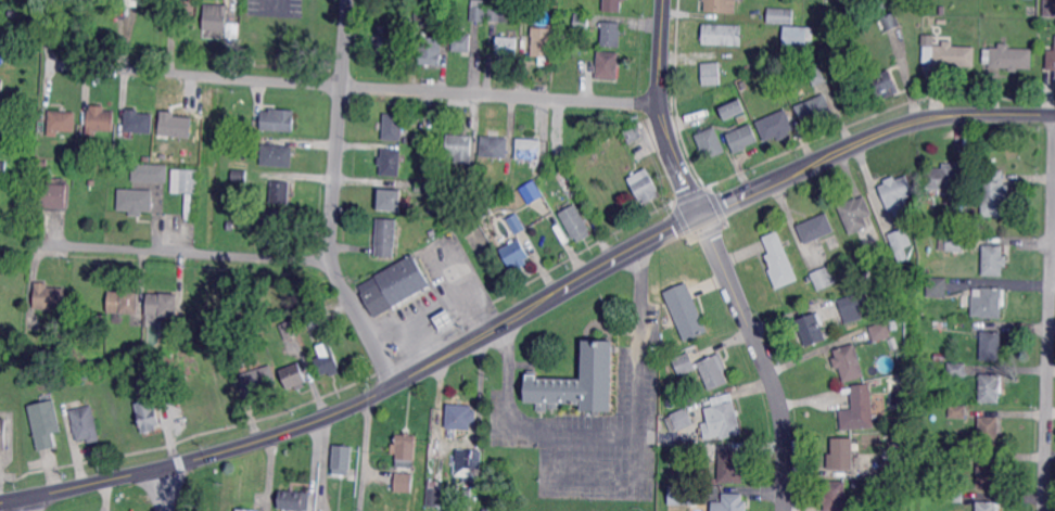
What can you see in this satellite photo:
building: (444, 1)
building: (885, 3)
building: (612, 5)
building: (720, 5)
building: (1050, 8)
building: (188, 10)
building: (479, 10)
building: (527, 11)
building: (942, 11)
building: (1032, 11)
building: (495, 12)
building: (14, 13)
building: (780, 15)
building: (431, 17)
building: (864, 20)
building: (214, 21)
building: (891, 21)
building: (582, 22)
building: (720, 34)
building: (611, 35)
building: (798, 37)
building: (3, 39)
building: (463, 40)
building: (542, 42)
building: (507, 47)
building: (431, 50)
building: (950, 55)
building: (1008, 56)
building: (1051, 61)
building: (608, 64)
building: (749, 67)
building: (717, 73)
building: (817, 75)
building: (882, 82)
building: (1, 84)
building: (742, 85)
road: (353, 86)
road: (661, 108)
building: (732, 108)
building: (815, 110)
building: (276, 119)
building: (99, 120)
building: (61, 122)
building: (138, 122)
building: (173, 124)
building: (10, 125)
building: (393, 126)
building: (776, 126)
building: (741, 138)
building: (638, 142)
building: (710, 143)
building: (460, 146)
building: (494, 146)
building: (527, 149)
building: (72, 151)
building: (106, 153)
building: (277, 155)
building: (390, 162)
building: (42, 163)
building: (115, 166)
building: (3, 167)
building: (93, 167)
building: (79, 169)
building: (436, 169)
building: (150, 171)
building: (518, 173)
building: (239, 175)
building: (944, 177)
building: (567, 178)
building: (186, 180)
building: (92, 182)
building: (644, 184)
building: (423, 186)
building: (470, 188)
building: (506, 189)
building: (280, 191)
building: (531, 192)
building: (895, 192)
building: (994, 193)
building: (54, 195)
road: (334, 197)
building: (136, 201)
building: (390, 201)
building: (961, 212)
traffic signals: (699, 213)
building: (856, 214)
building: (973, 216)
building: (274, 217)
building: (575, 222)
building: (516, 225)
building: (230, 226)
building: (816, 228)
building: (432, 232)
building: (229, 235)
building: (385, 237)
building: (834, 242)
building: (901, 242)
building: (955, 243)
road: (73, 244)
building: (930, 248)
road: (218, 254)
building: (516, 254)
building: (994, 259)
building: (779, 260)
building: (12, 261)
building: (825, 277)
building: (392, 284)
gas station: (397, 285)
building: (938, 286)
building: (49, 296)
building: (124, 302)
building: (989, 302)
building: (162, 303)
road: (530, 305)
building: (853, 307)
building: (685, 311)
road: (1048, 311)
building: (314, 318)
building: (446, 320)
building: (812, 329)
building: (288, 330)
building: (881, 331)
building: (174, 338)
building: (991, 345)
building: (137, 349)
building: (118, 354)
road: (762, 357)
building: (940, 357)
building: (327, 360)
building: (849, 362)
building: (150, 367)
building: (703, 369)
building: (957, 369)
building: (293, 376)
building: (258, 380)
building: (579, 382)
building: (991, 387)
building: (860, 408)
building: (957, 411)
building: (149, 416)
building: (461, 416)
building: (724, 416)
building: (683, 419)
building: (42, 423)
building: (84, 423)
parking lot: (595, 427)
building: (714, 430)
building: (988, 430)
road: (596, 434)
building: (1, 435)
building: (688, 452)
building: (842, 452)
building: (957, 457)
building: (342, 459)
building: (405, 461)
building: (470, 464)
building: (889, 464)
building: (730, 467)
building: (989, 472)
road: (610, 481)
road: (166, 488)
building: (681, 494)
building: (698, 495)
building: (835, 496)
building: (955, 496)
building: (434, 497)
building: (294, 499)
road: (33, 502)
building: (735, 502)
building: (987, 506)
building: (243, 510)

